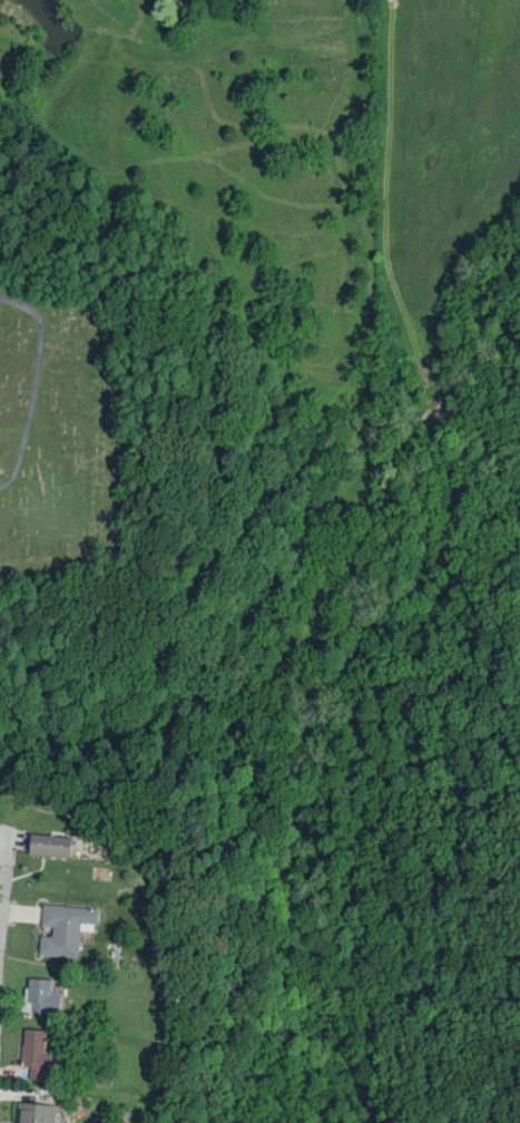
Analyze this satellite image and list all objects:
road: (45, 385)
park: (55, 437)
building: (48, 844)
building: (63, 928)
road: (3, 948)
building: (39, 996)
building: (35, 1054)
building: (35, 1113)

